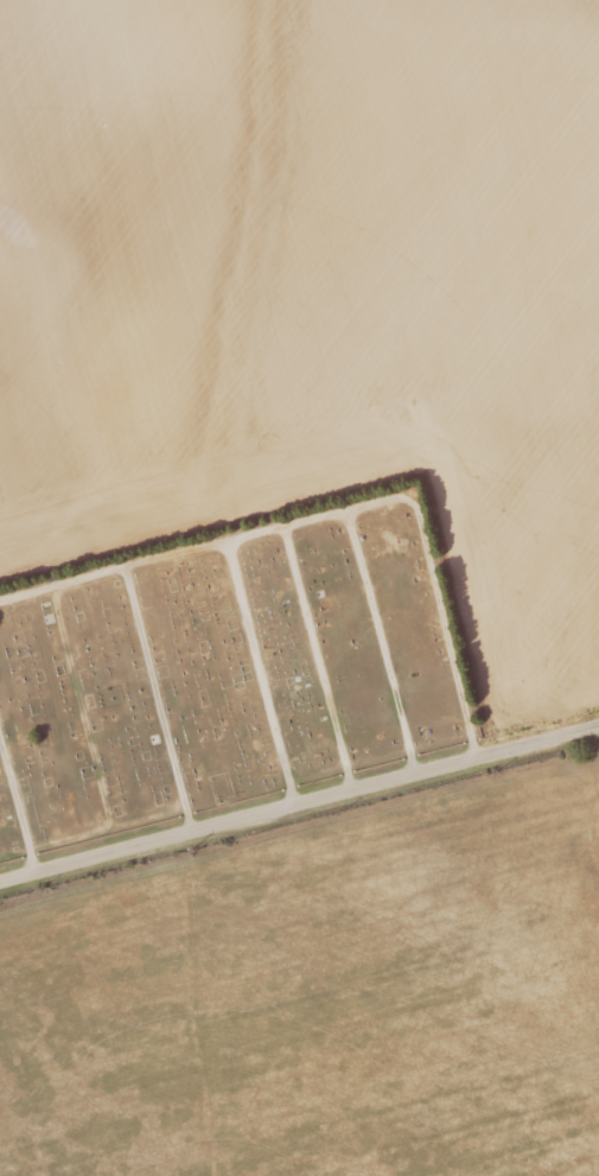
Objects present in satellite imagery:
park: (224, 666)
road: (299, 800)

